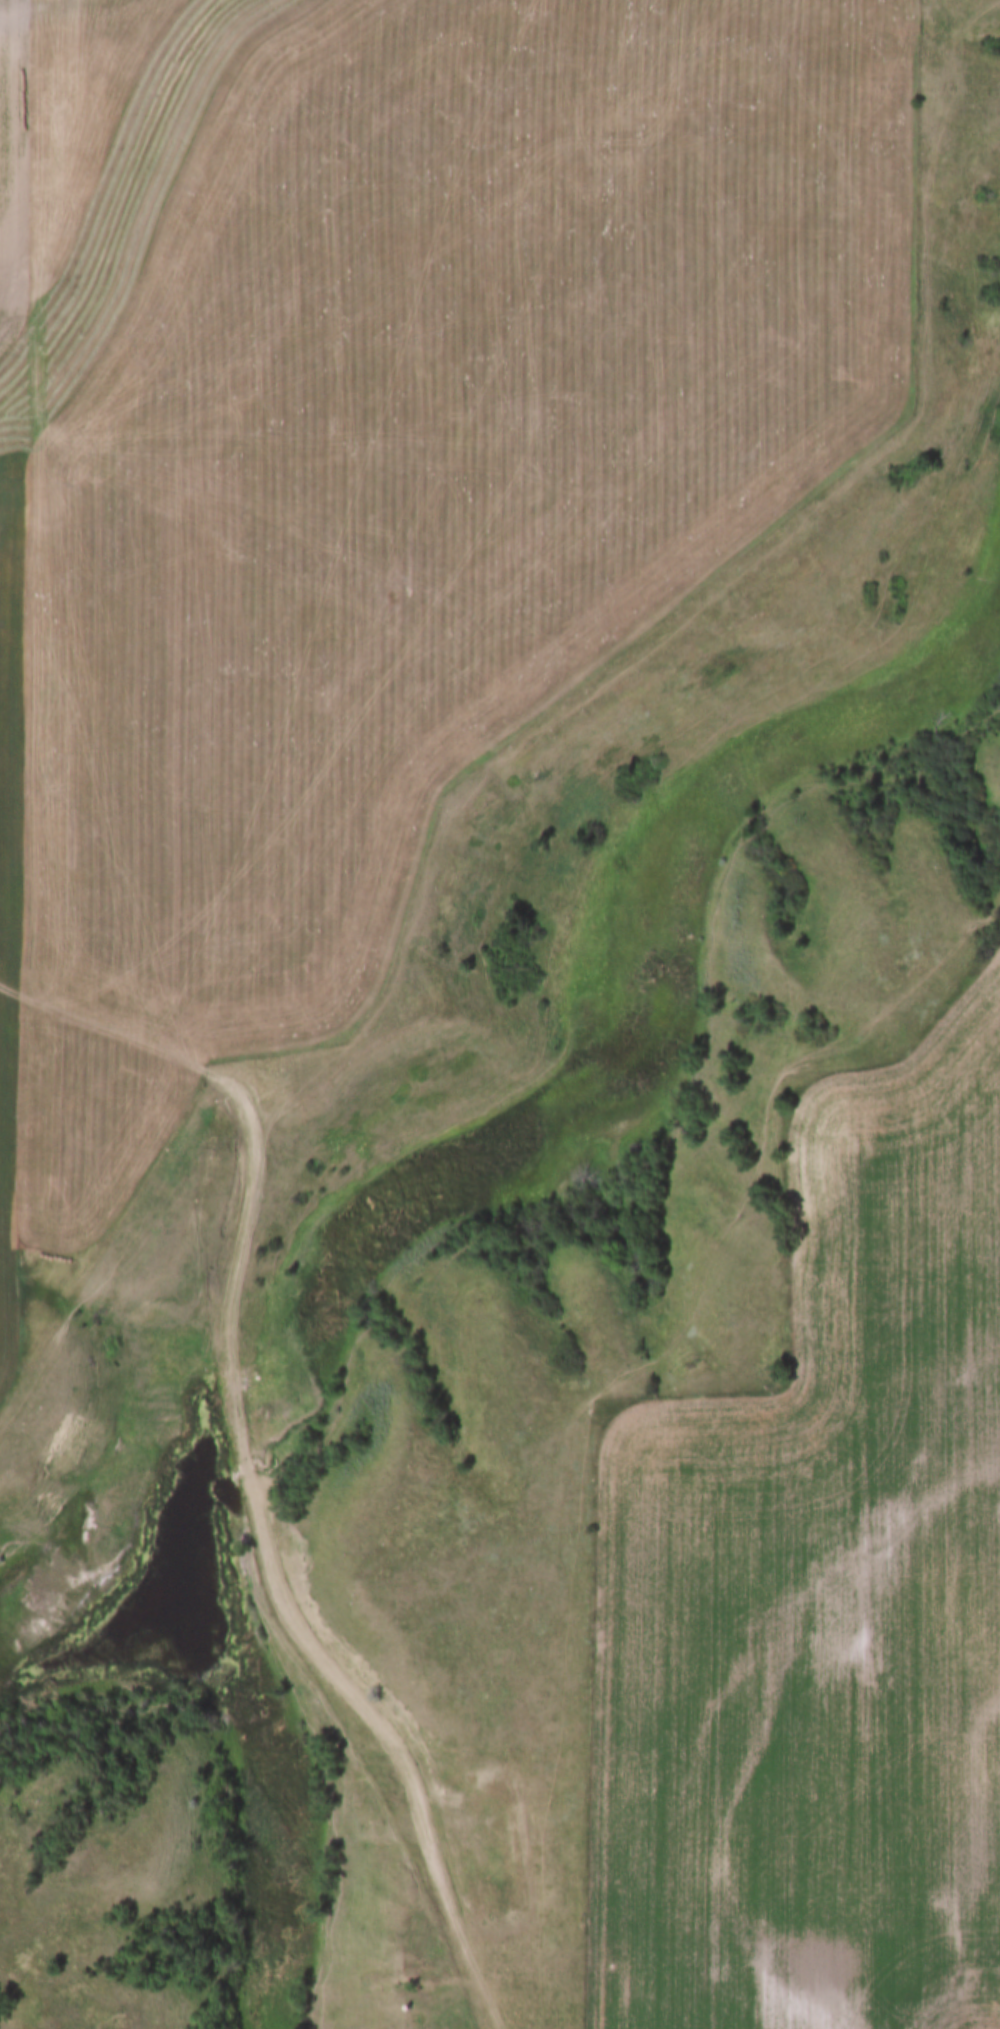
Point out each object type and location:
road: (243, 1458)

